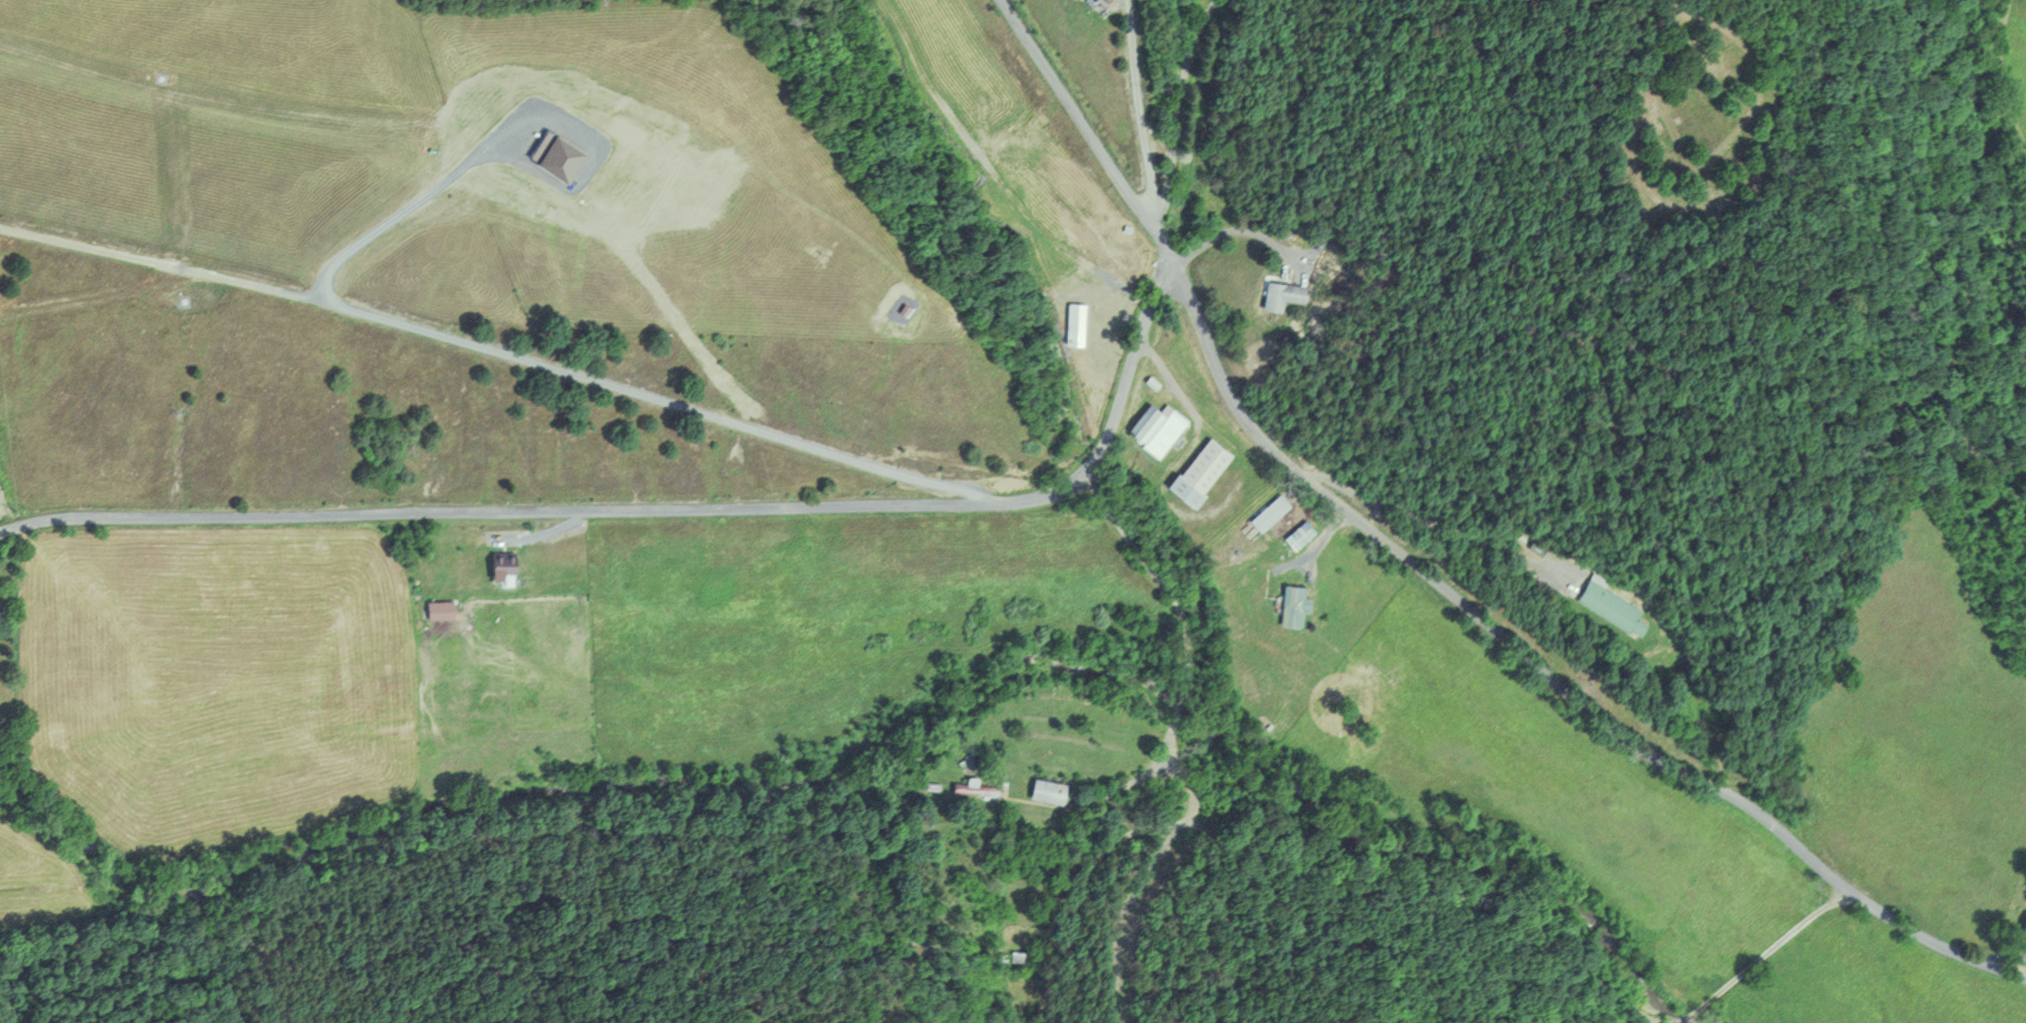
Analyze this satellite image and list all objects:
road: (1137, 106)
road: (1085, 130)
road: (1242, 231)
building: (1322, 244)
building: (1282, 295)
building: (1074, 324)
building: (1154, 428)
building: (1196, 470)
road: (663, 507)
building: (1267, 512)
road: (1432, 521)
road: (0, 530)
road: (542, 532)
building: (1296, 534)
building: (497, 562)
building: (1289, 603)
building: (1608, 607)
building: (444, 609)
road: (1468, 609)
building: (973, 788)
building: (1044, 790)
building: (2022, 920)
road: (1932, 940)
building: (1023, 959)

